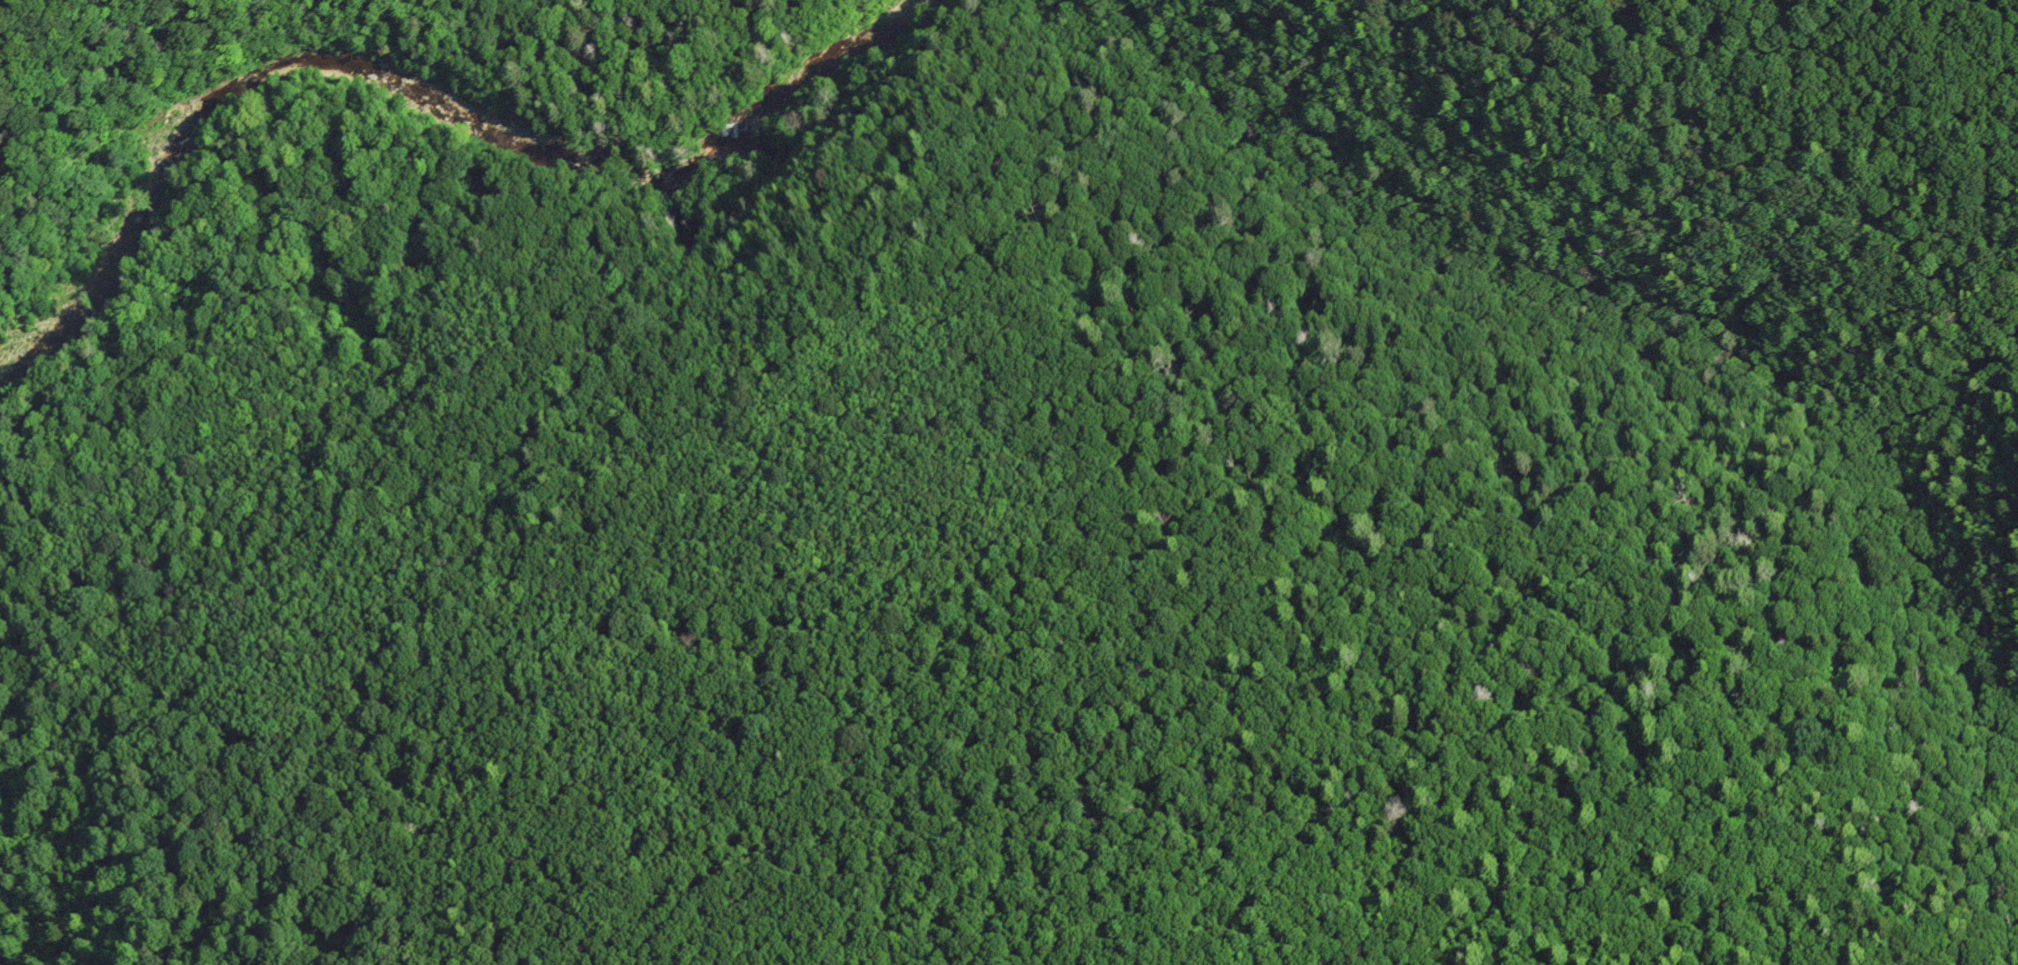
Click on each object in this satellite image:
river: (412, 97)
road: (663, 342)

